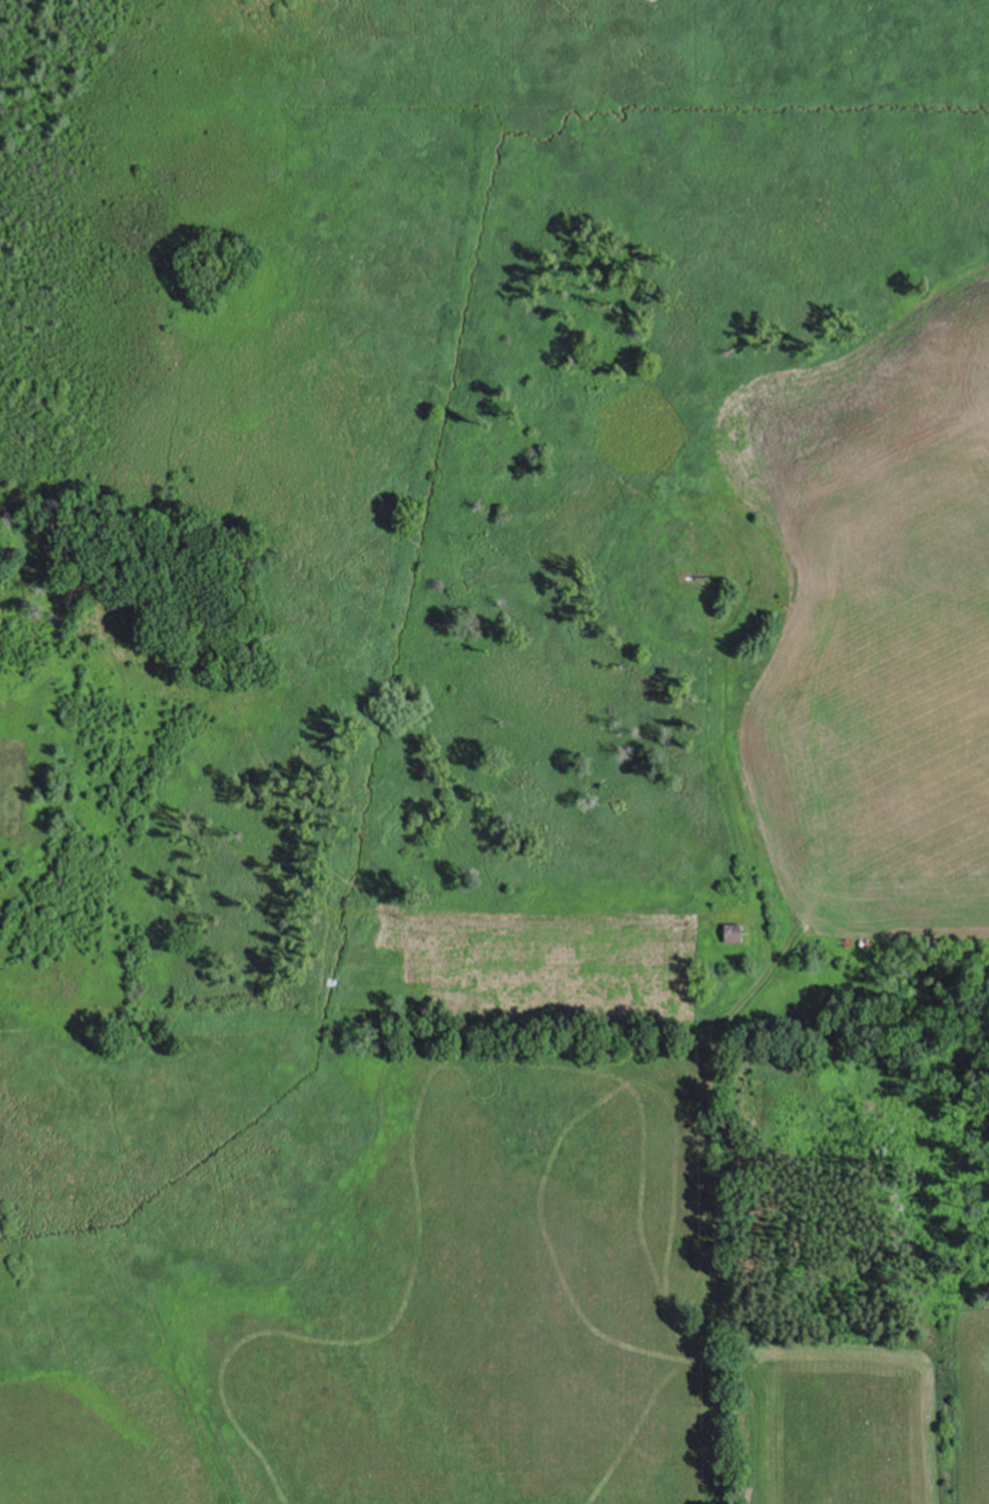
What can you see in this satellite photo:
building: (732, 934)

